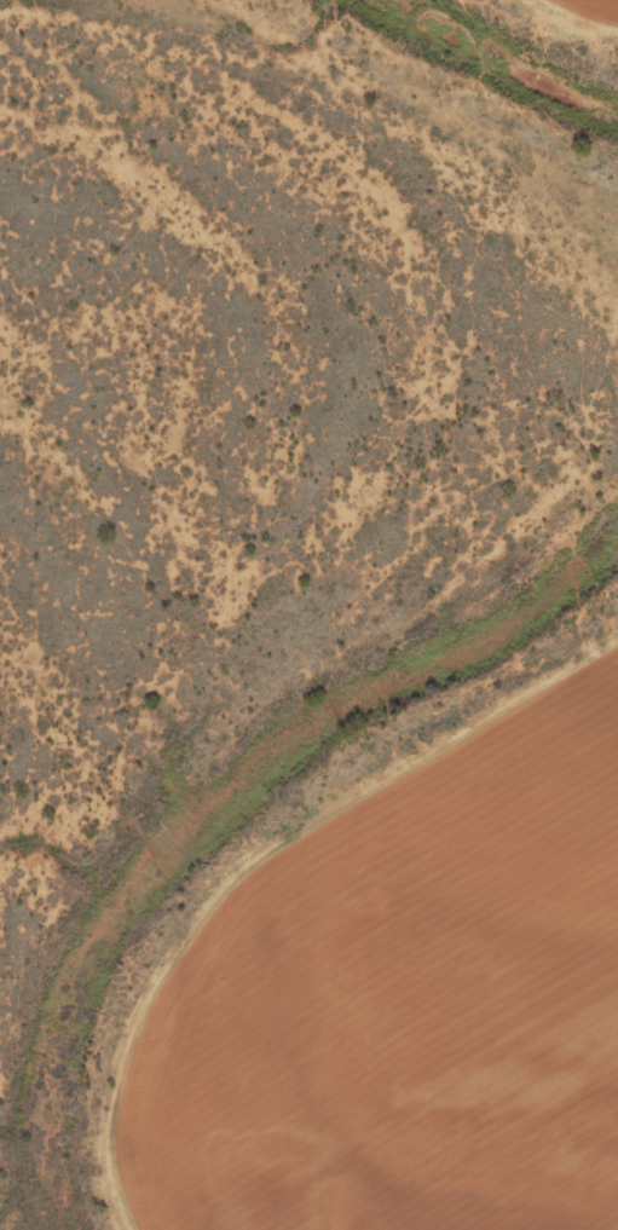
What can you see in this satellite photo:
river: (498, 58)
river: (213, 804)

